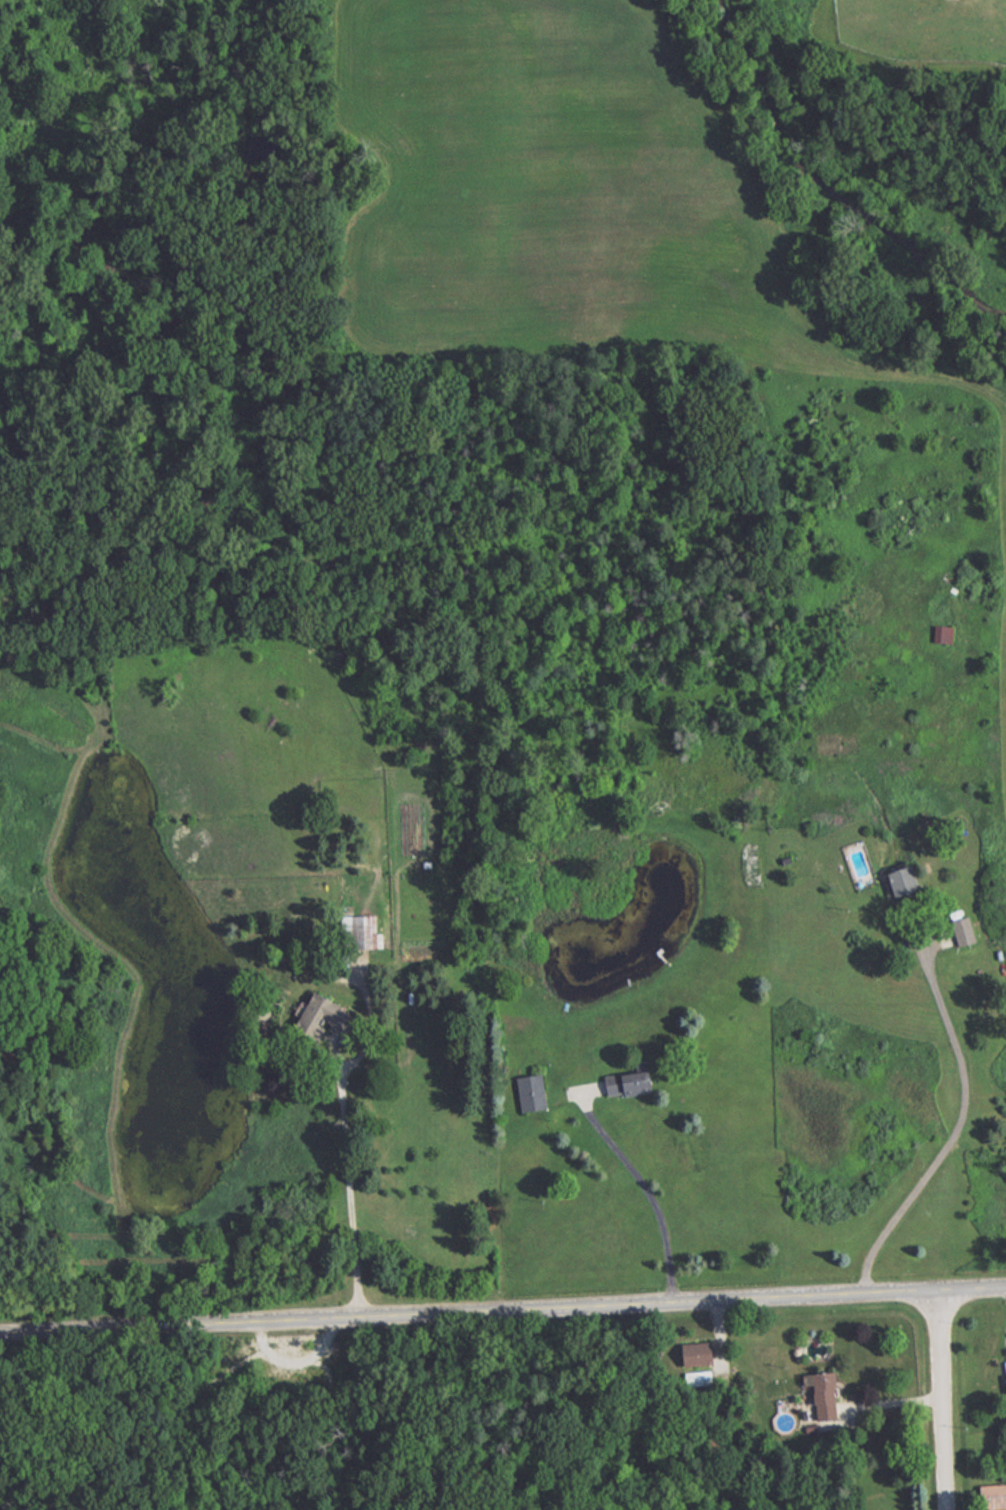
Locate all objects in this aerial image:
building: (945, 632)
building: (908, 881)
building: (967, 929)
building: (328, 1014)
building: (632, 1081)
road: (954, 1131)
road: (349, 1186)
road: (651, 1191)
road: (503, 1311)
building: (826, 1396)
road: (944, 1400)
road: (890, 1416)
building: (996, 1493)

